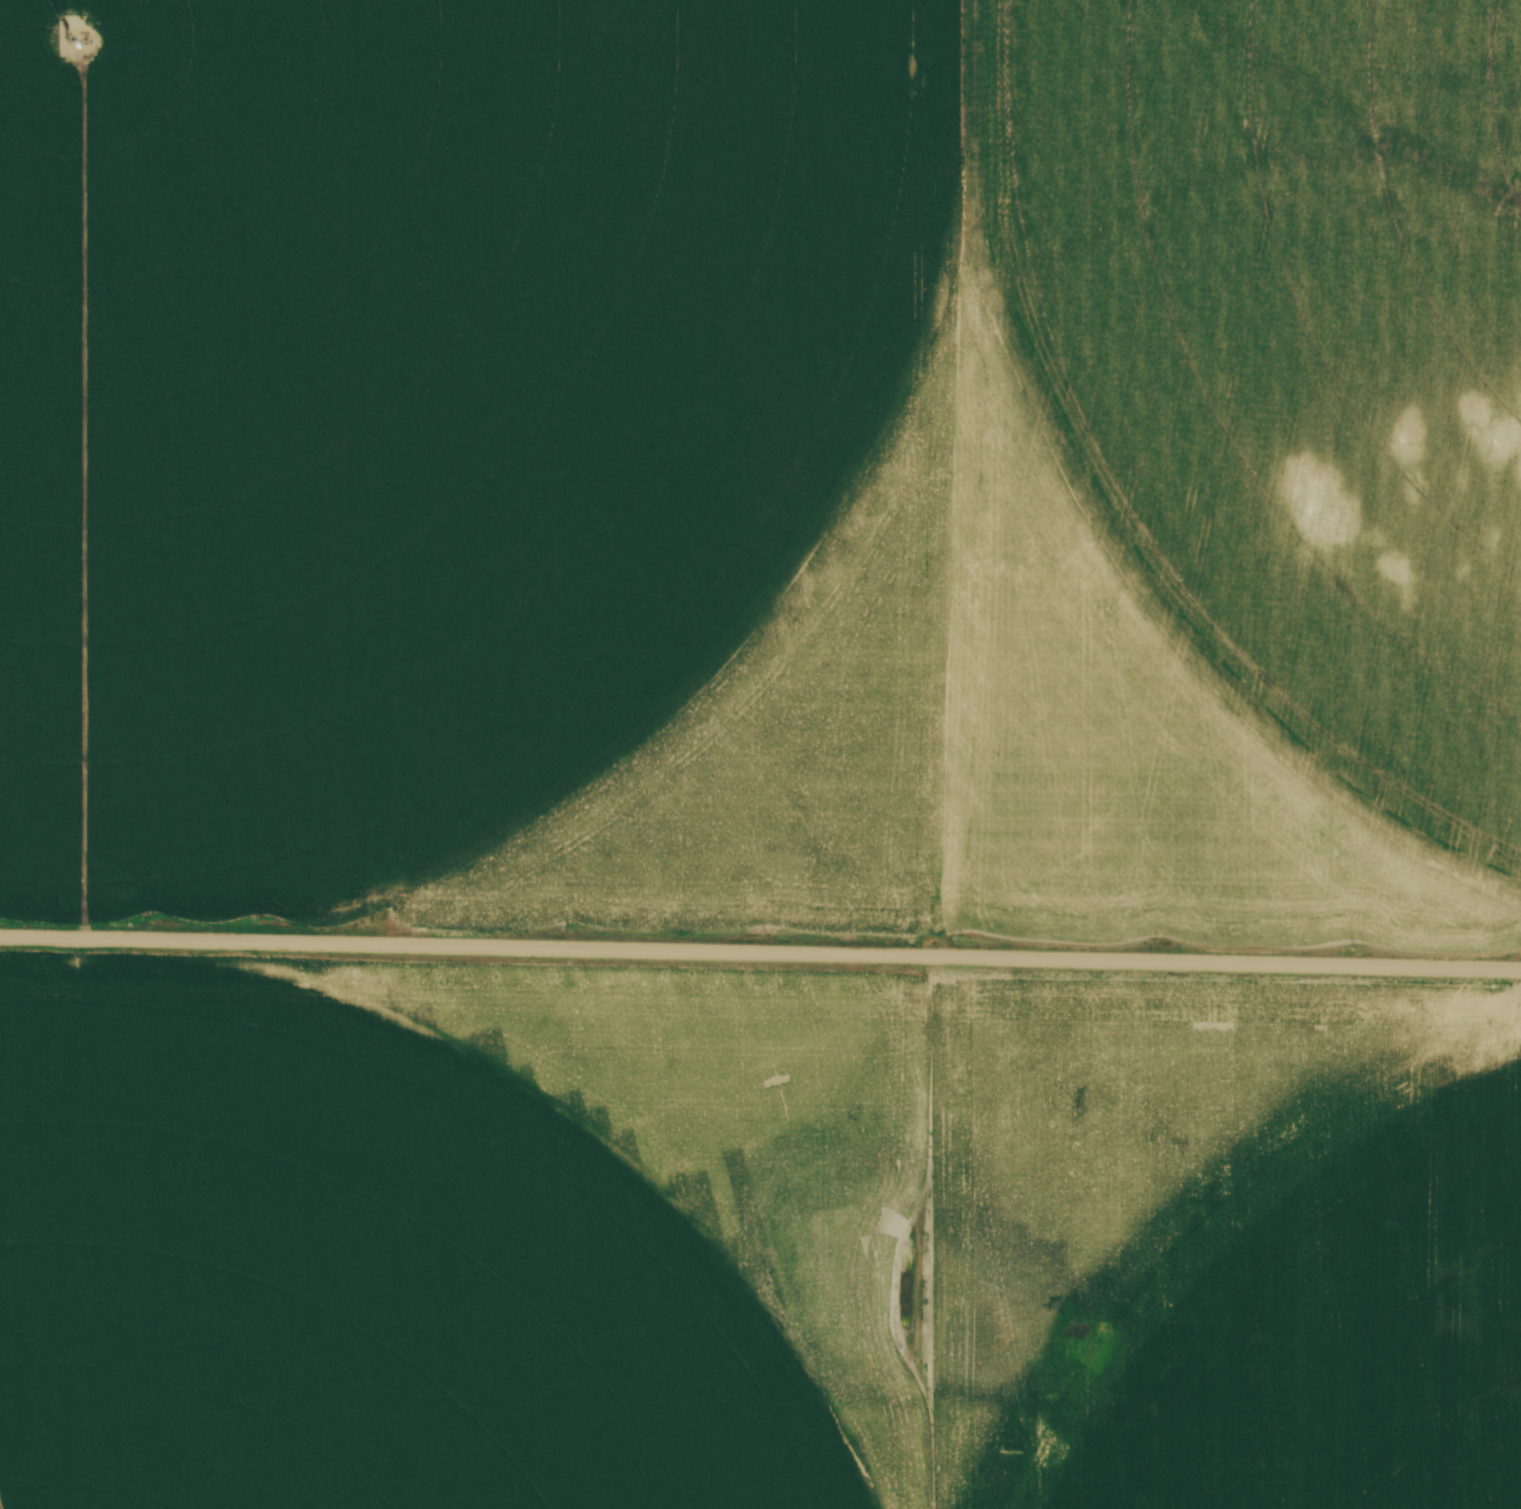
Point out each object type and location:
crop: (764, 470)
road: (760, 953)
crop: (752, 1239)

